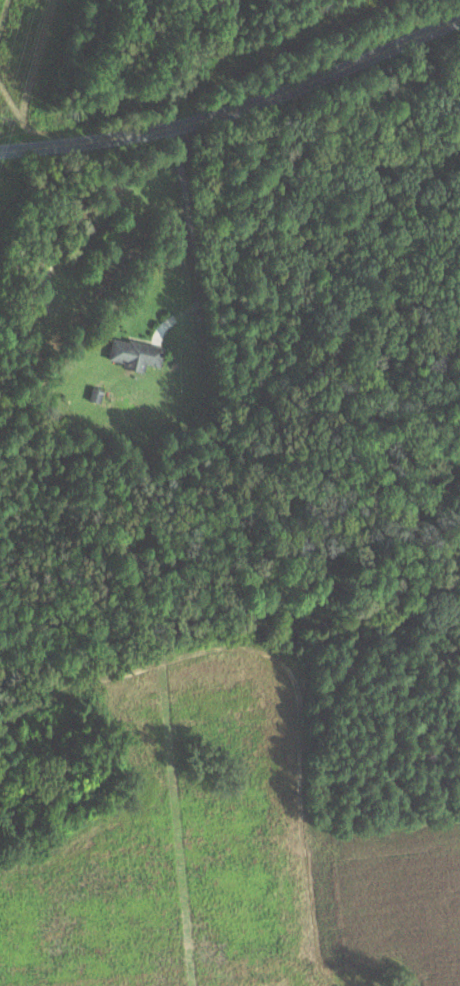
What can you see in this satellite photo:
road: (236, 109)
road: (190, 222)
building: (136, 353)

